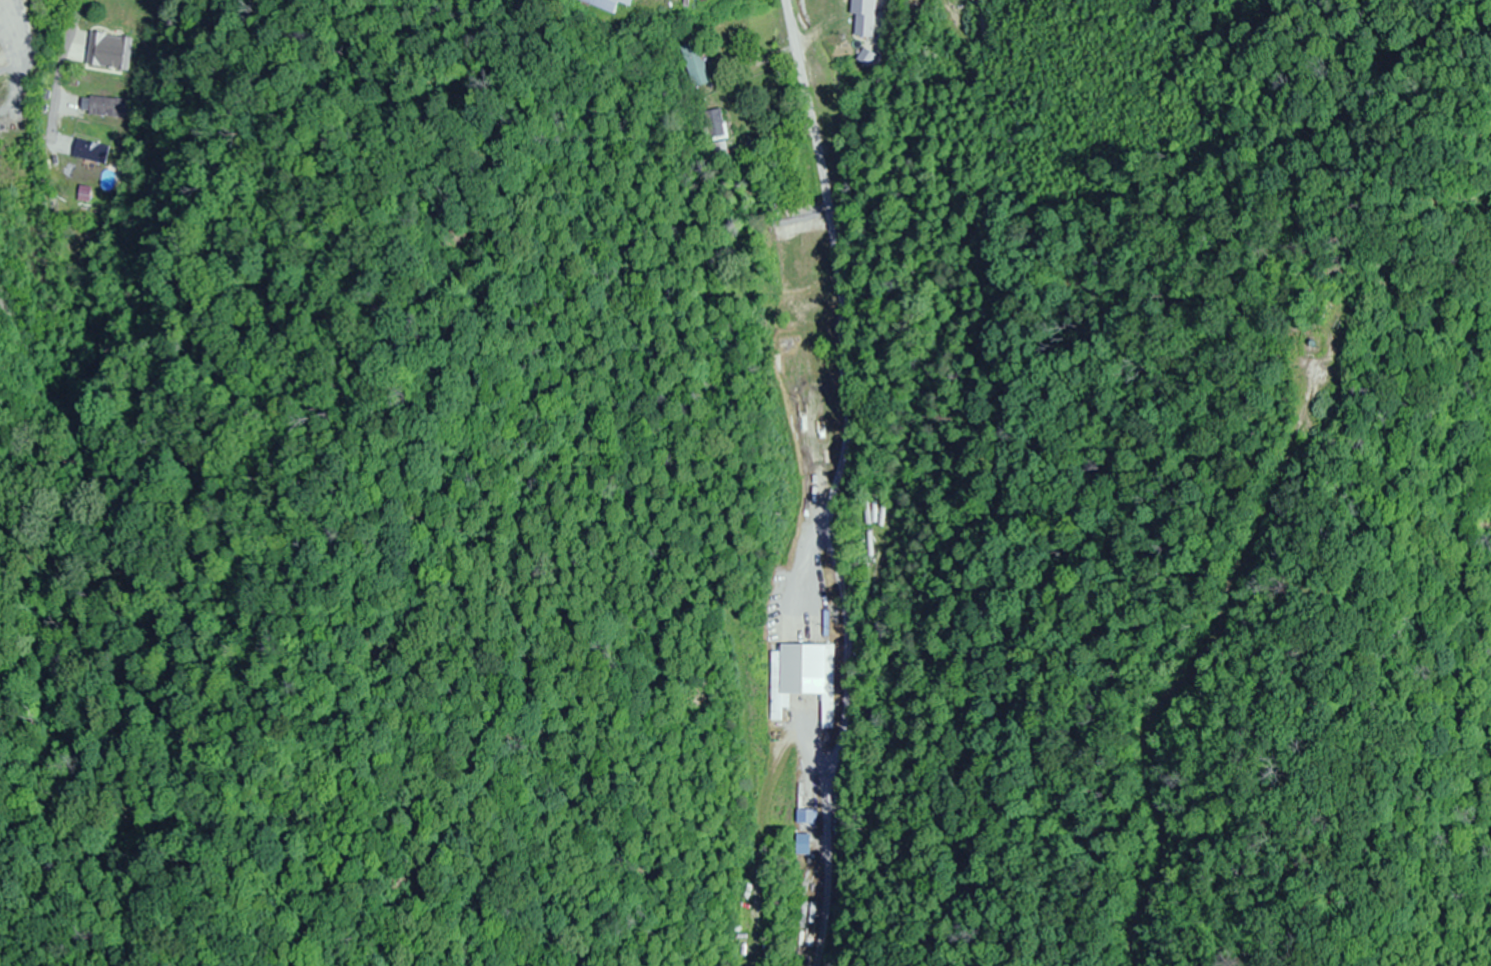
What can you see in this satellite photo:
building: (604, 4)
building: (867, 17)
building: (109, 52)
building: (694, 65)
road: (61, 68)
building: (107, 107)
road: (810, 107)
building: (715, 125)
building: (89, 152)
building: (782, 235)
building: (796, 264)
building: (803, 677)

